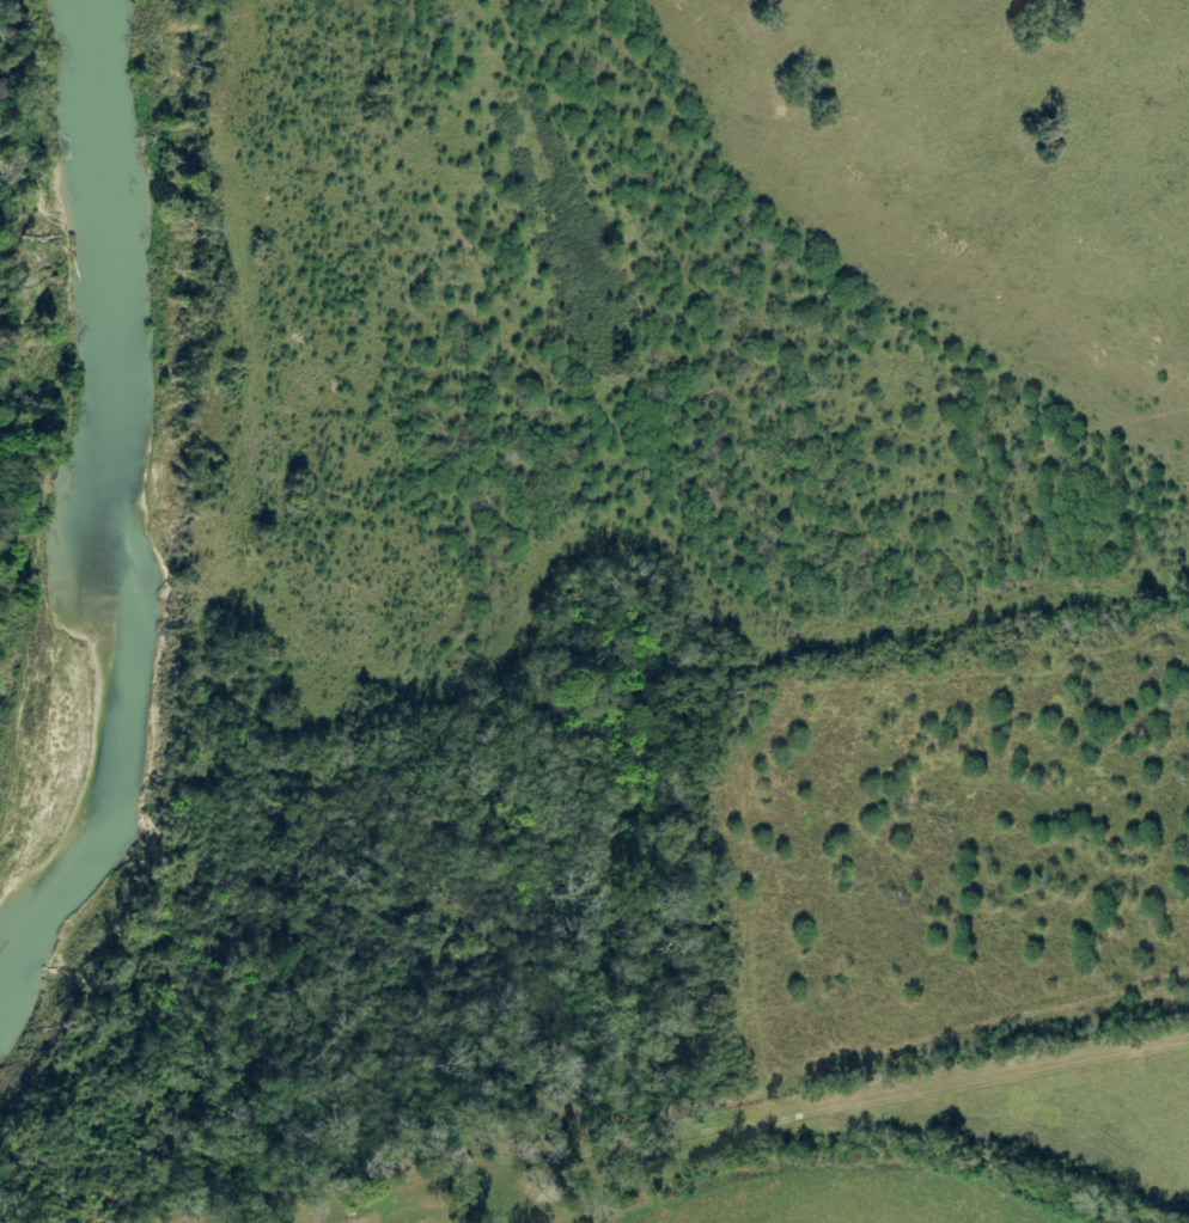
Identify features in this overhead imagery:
river: (92, 471)

